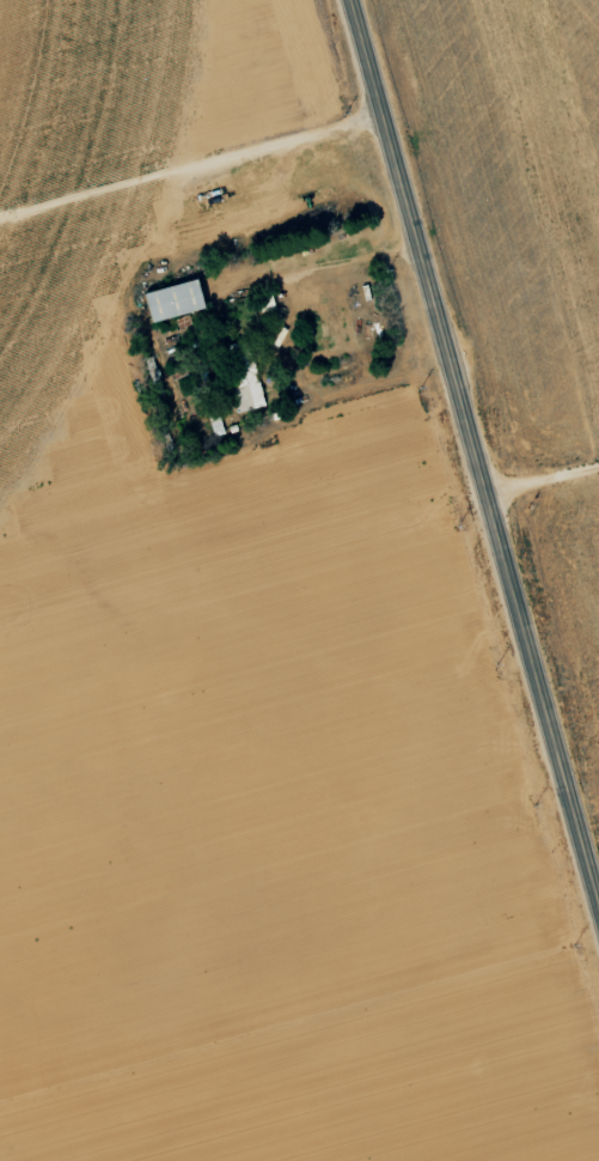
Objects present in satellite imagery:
building: (170, 304)
building: (243, 381)
road: (473, 458)

